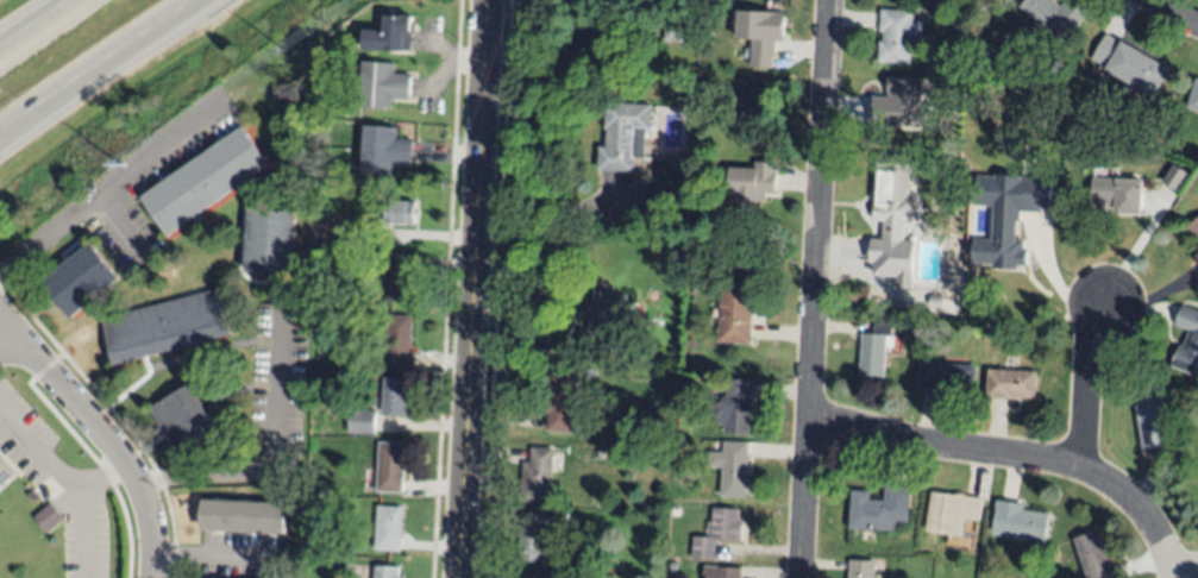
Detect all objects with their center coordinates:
road: (1175, 13)
building: (1055, 15)
road: (29, 20)
building: (676, 30)
building: (390, 34)
building: (760, 34)
building: (896, 36)
power tower: (286, 50)
building: (1129, 64)
road: (99, 67)
building: (382, 86)
building: (1194, 99)
building: (904, 105)
building: (1011, 126)
building: (625, 136)
building: (383, 150)
power tower: (121, 164)
building: (1174, 177)
building: (206, 181)
building: (752, 184)
road: (111, 187)
building: (898, 190)
building: (1121, 194)
road: (552, 208)
building: (391, 212)
building: (1008, 216)
road: (118, 224)
building: (1193, 230)
building: (270, 243)
building: (1197, 245)
building: (1197, 257)
building: (401, 276)
building: (82, 279)
road: (478, 289)
road: (815, 289)
building: (934, 301)
building: (736, 310)
building: (606, 323)
building: (167, 326)
building: (918, 328)
building: (1187, 341)
building: (395, 344)
building: (873, 351)
building: (945, 376)
road: (1085, 382)
building: (1009, 384)
building: (395, 396)
building: (559, 397)
building: (1179, 400)
building: (734, 406)
building: (1150, 416)
building: (363, 421)
building: (187, 422)
road: (105, 439)
building: (679, 445)
road: (40, 452)
road: (269, 454)
building: (600, 454)
road: (1017, 456)
building: (390, 467)
building: (732, 467)
building: (5, 473)
building: (538, 476)
building: (324, 494)
road: (86, 509)
building: (879, 509)
building: (318, 511)
building: (952, 513)
building: (50, 517)
building: (245, 517)
building: (557, 519)
building: (1020, 522)
building: (388, 528)
building: (717, 533)
building: (533, 545)
road: (205, 552)
building: (1094, 558)
building: (861, 566)
building: (671, 567)
building: (721, 571)
building: (384, 572)
road: (1185, 574)
building: (590, 576)
building: (531, 577)

